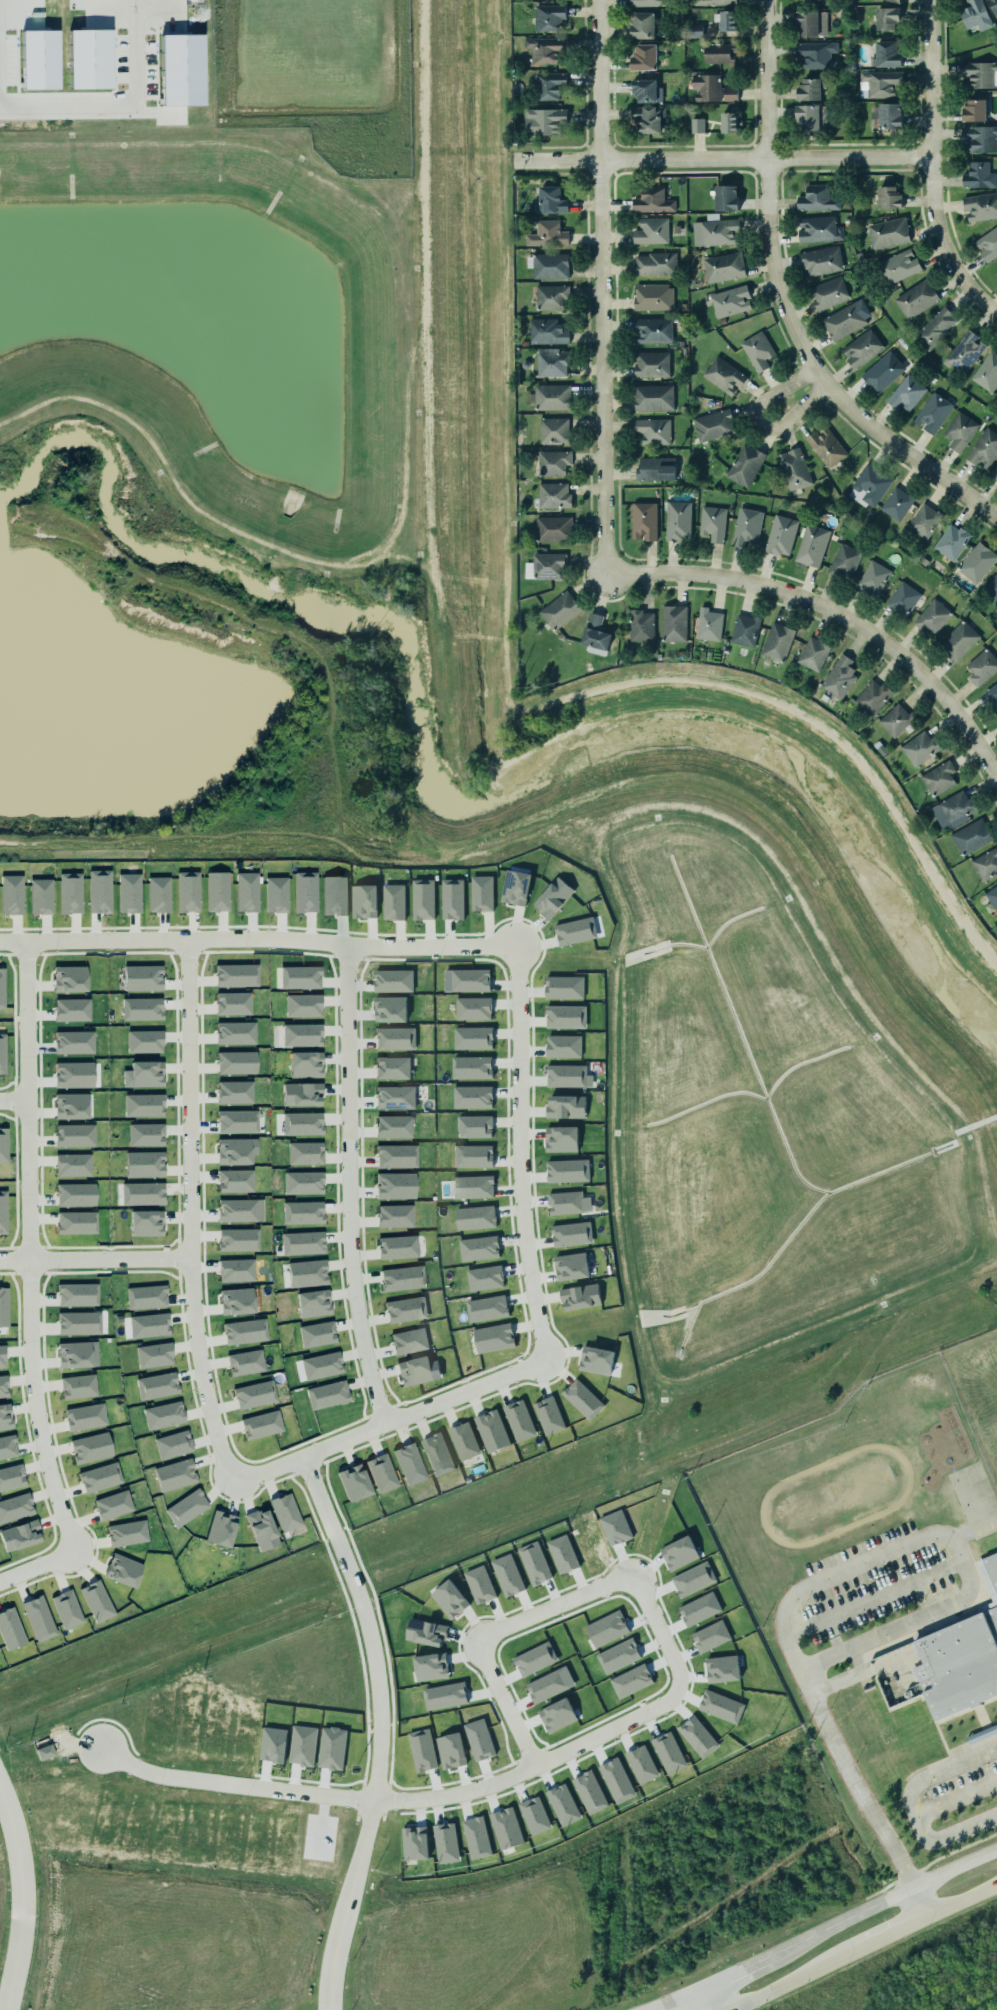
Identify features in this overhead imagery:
building: (817, 0)
building: (650, 2)
building: (891, 2)
building: (714, 3)
building: (993, 6)
building: (975, 15)
building: (549, 17)
building: (884, 20)
building: (727, 22)
building: (641, 23)
building: (807, 23)
building: (694, 31)
building: (544, 47)
building: (815, 53)
building: (719, 54)
building: (643, 55)
building: (887, 56)
building: (90, 59)
building: (39, 60)
building: (181, 70)
building: (979, 73)
building: (547, 83)
building: (882, 85)
building: (643, 87)
building: (810, 89)
building: (712, 90)
road: (118, 106)
building: (974, 110)
building: (811, 117)
building: (648, 118)
building: (889, 118)
building: (542, 119)
building: (729, 123)
building: (695, 127)
building: (979, 137)
road: (719, 158)
road: (930, 168)
building: (977, 174)
road: (767, 189)
building: (887, 195)
building: (724, 197)
building: (651, 199)
building: (551, 200)
building: (816, 200)
building: (980, 206)
building: (650, 229)
building: (718, 230)
building: (819, 230)
building: (546, 232)
building: (887, 232)
building: (987, 242)
building: (821, 261)
building: (655, 264)
building: (549, 265)
building: (899, 266)
building: (724, 267)
building: (995, 272)
road: (601, 286)
building: (652, 295)
building: (828, 295)
building: (551, 297)
building: (915, 298)
building: (730, 301)
building: (844, 323)
building: (934, 326)
building: (652, 328)
building: (546, 330)
building: (756, 349)
building: (862, 350)
building: (965, 351)
building: (552, 362)
building: (650, 363)
building: (986, 369)
building: (723, 373)
building: (883, 373)
building: (907, 394)
building: (550, 395)
building: (652, 396)
building: (932, 414)
road: (759, 423)
building: (714, 425)
building: (553, 428)
building: (654, 431)
building: (960, 432)
building: (824, 445)
road: (899, 450)
building: (984, 450)
building: (551, 461)
building: (744, 464)
building: (792, 467)
building: (655, 469)
building: (994, 474)
building: (868, 484)
building: (554, 495)
building: (896, 502)
building: (676, 519)
building: (644, 520)
building: (925, 521)
building: (713, 523)
building: (552, 527)
building: (747, 527)
building: (779, 534)
building: (950, 540)
building: (810, 544)
building: (843, 560)
building: (976, 562)
building: (546, 564)
building: (872, 576)
building: (991, 587)
building: (903, 599)
building: (557, 609)
road: (835, 613)
building: (932, 616)
building: (672, 622)
building: (707, 623)
building: (641, 626)
building: (743, 628)
building: (594, 630)
building: (959, 640)
building: (776, 641)
building: (812, 653)
building: (981, 667)
building: (839, 677)
building: (991, 695)
building: (872, 697)
building: (895, 718)
building: (919, 748)
building: (938, 776)
building: (951, 807)
building: (969, 834)
building: (986, 861)
building: (516, 887)
building: (99, 891)
building: (10, 892)
building: (187, 892)
building: (217, 892)
building: (246, 892)
building: (305, 892)
building: (992, 892)
building: (70, 893)
building: (129, 893)
building: (482, 893)
building: (552, 893)
building: (40, 894)
building: (158, 895)
building: (276, 895)
building: (334, 895)
building: (423, 899)
building: (452, 899)
building: (364, 901)
building: (394, 901)
building: (574, 929)
road: (10, 944)
building: (68, 976)
building: (237, 976)
building: (142, 978)
building: (300, 978)
building: (393, 980)
building: (470, 980)
building: (564, 987)
building: (1, 989)
building: (233, 1004)
building: (303, 1006)
building: (390, 1008)
building: (473, 1008)
building: (141, 1009)
building: (72, 1010)
building: (565, 1016)
building: (235, 1033)
building: (301, 1035)
building: (395, 1038)
building: (473, 1038)
building: (145, 1042)
building: (74, 1043)
road: (512, 1043)
building: (563, 1046)
building: (2, 1054)
building: (236, 1063)
building: (305, 1064)
building: (472, 1067)
building: (392, 1068)
building: (72, 1073)
building: (146, 1074)
building: (566, 1076)
building: (234, 1092)
building: (301, 1094)
building: (393, 1096)
building: (473, 1097)
road: (11, 1103)
building: (69, 1103)
building: (143, 1105)
building: (565, 1106)
building: (237, 1122)
building: (302, 1124)
building: (474, 1126)
building: (393, 1127)
building: (79, 1134)
building: (146, 1135)
building: (561, 1139)
building: (5, 1143)
building: (233, 1151)
building: (305, 1153)
building: (396, 1156)
building: (473, 1156)
building: (145, 1164)
building: (77, 1165)
building: (565, 1169)
building: (235, 1181)
building: (303, 1183)
building: (395, 1186)
building: (473, 1186)
road: (343, 1188)
building: (77, 1193)
building: (142, 1194)
building: (564, 1200)
building: (240, 1211)
building: (5, 1213)
building: (303, 1213)
building: (395, 1216)
building: (475, 1217)
building: (80, 1222)
building: (146, 1223)
building: (571, 1234)
building: (238, 1240)
building: (302, 1243)
building: (398, 1247)
building: (479, 1248)
road: (184, 1249)
road: (92, 1261)
building: (571, 1266)
building: (235, 1268)
building: (307, 1273)
building: (485, 1277)
building: (402, 1279)
road: (24, 1285)
building: (77, 1295)
building: (146, 1297)
building: (580, 1297)
building: (236, 1301)
building: (313, 1303)
building: (4, 1307)
building: (487, 1308)
building: (406, 1309)
building: (79, 1323)
building: (149, 1325)
building: (245, 1332)
building: (317, 1334)
building: (493, 1335)
building: (409, 1341)
building: (74, 1355)
building: (154, 1355)
building: (2, 1357)
building: (596, 1360)
building: (245, 1363)
building: (321, 1366)
building: (415, 1371)
building: (157, 1386)
building: (3, 1387)
building: (78, 1387)
building: (255, 1395)
building: (327, 1395)
building: (582, 1399)
building: (164, 1415)
building: (548, 1415)
building: (5, 1417)
building: (85, 1417)
building: (519, 1420)
building: (261, 1425)
building: (491, 1431)
building: (464, 1440)
building: (173, 1445)
building: (7, 1447)
building: (91, 1448)
building: (437, 1454)
building: (410, 1464)
building: (382, 1473)
building: (175, 1475)
building: (11, 1477)
building: (100, 1477)
building: (354, 1483)
building: (113, 1505)
building: (15, 1508)
building: (186, 1508)
building: (286, 1513)
building: (221, 1529)
building: (262, 1530)
road: (973, 1530)
building: (127, 1533)
building: (20, 1536)
building: (991, 1567)
building: (123, 1570)
road: (833, 1575)
road: (872, 1599)
building: (97, 1601)
building: (67, 1609)
building: (39, 1619)
building: (10, 1630)
building: (959, 1665)
road: (848, 1679)
road: (374, 1731)
building: (981, 1733)
road: (590, 1737)
building: (422, 1750)
building: (451, 1750)
building: (44, 1752)
road: (938, 1771)
road: (956, 1800)
road: (949, 1836)
road: (953, 1867)
road: (915, 1900)
road: (958, 1900)
road: (876, 1902)
road: (16, 1909)
road: (887, 1931)
road: (748, 1968)
road: (793, 1978)
road: (719, 1998)
road: (688, 2003)

